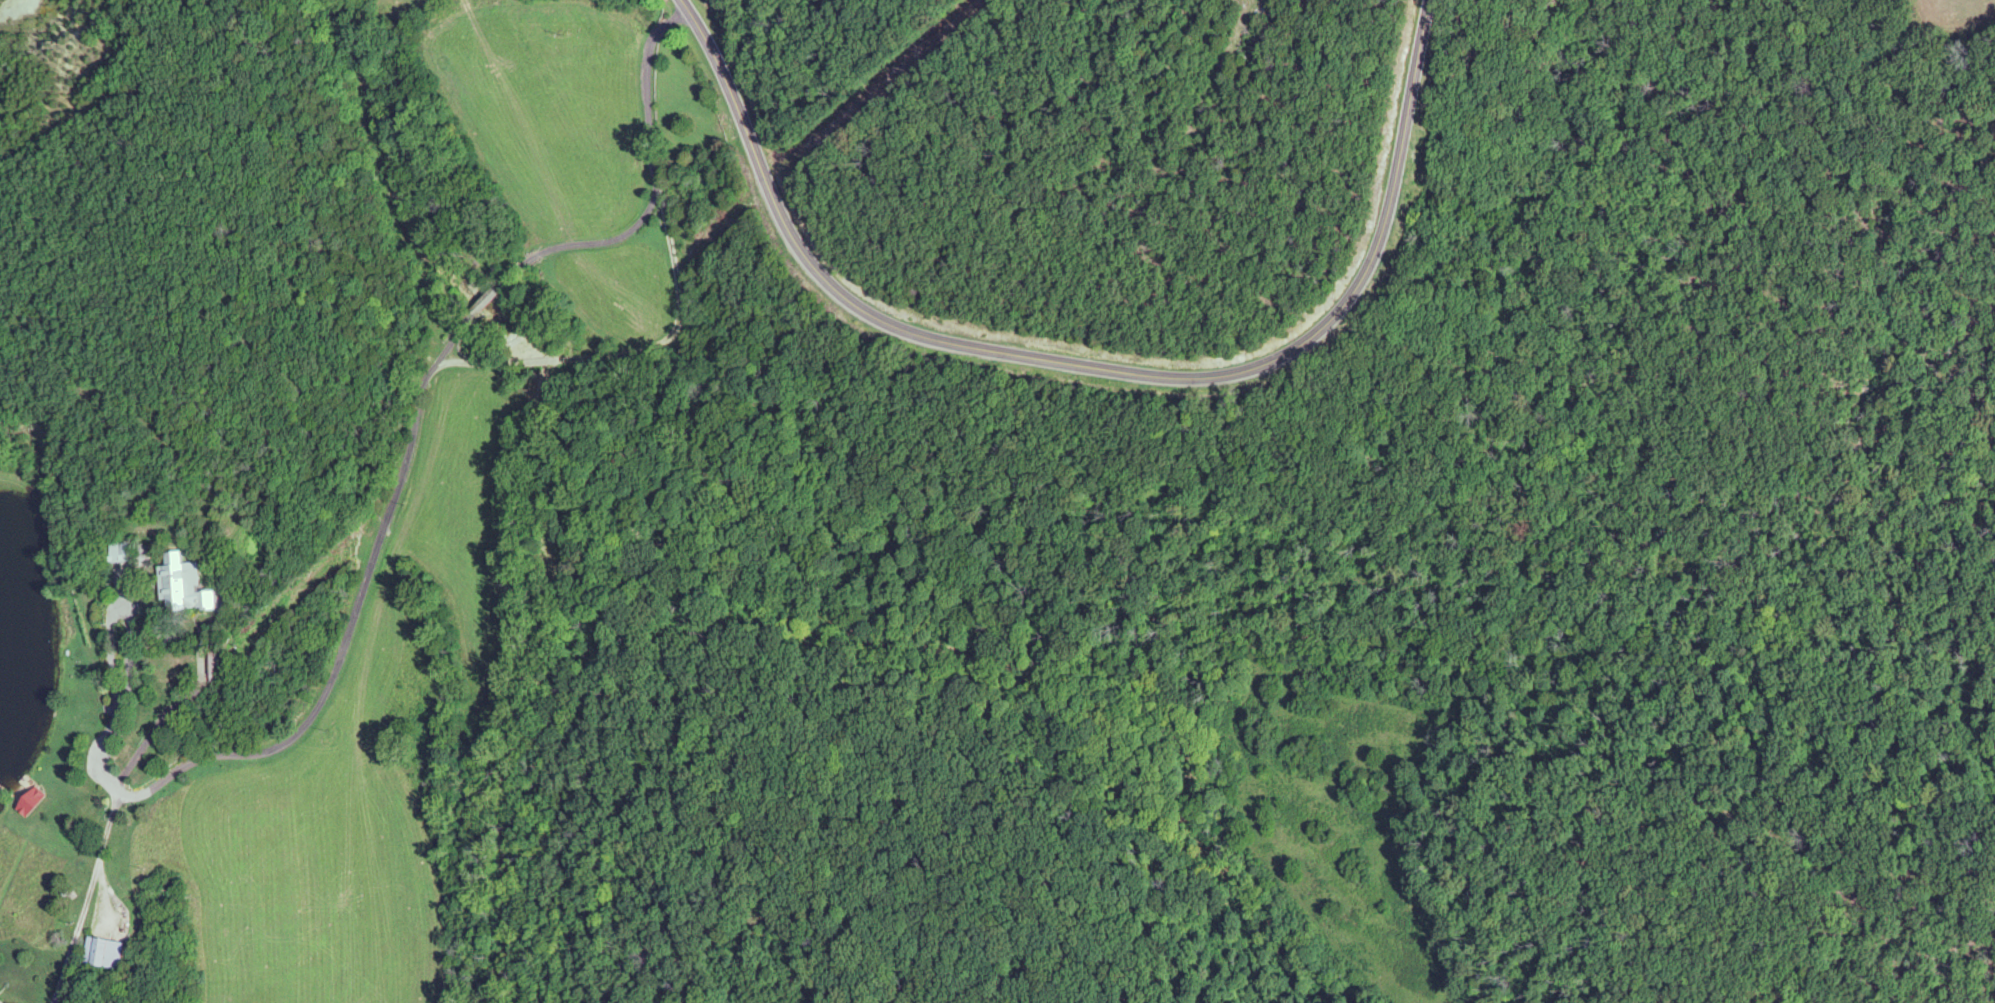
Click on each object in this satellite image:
road: (634, 228)
road: (1088, 367)
road: (375, 551)
building: (113, 554)
building: (179, 586)
building: (213, 668)
building: (24, 805)
road: (83, 896)
building: (99, 953)

